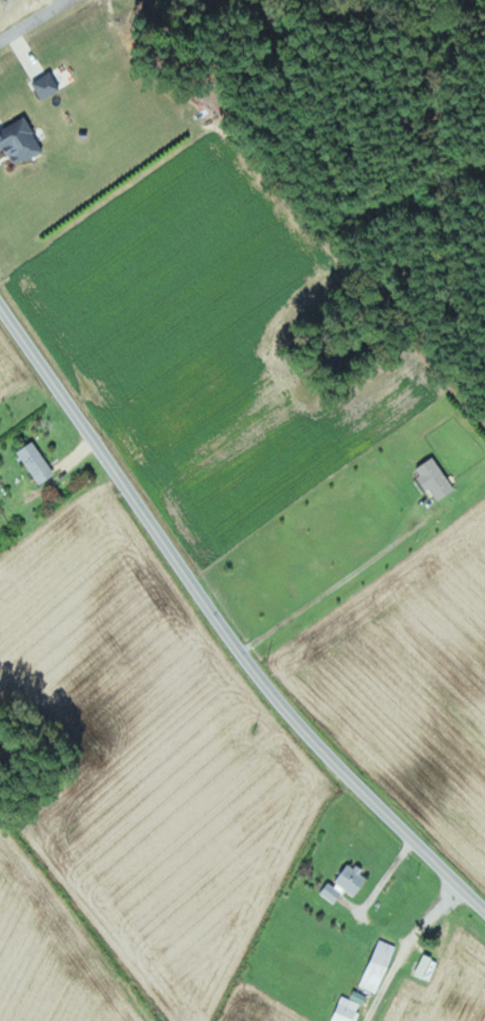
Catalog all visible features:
road: (34, 21)
building: (47, 85)
building: (21, 141)
building: (38, 463)
building: (436, 478)
road: (220, 620)
building: (347, 883)
road: (418, 951)
building: (381, 965)
building: (427, 966)
building: (351, 1007)

